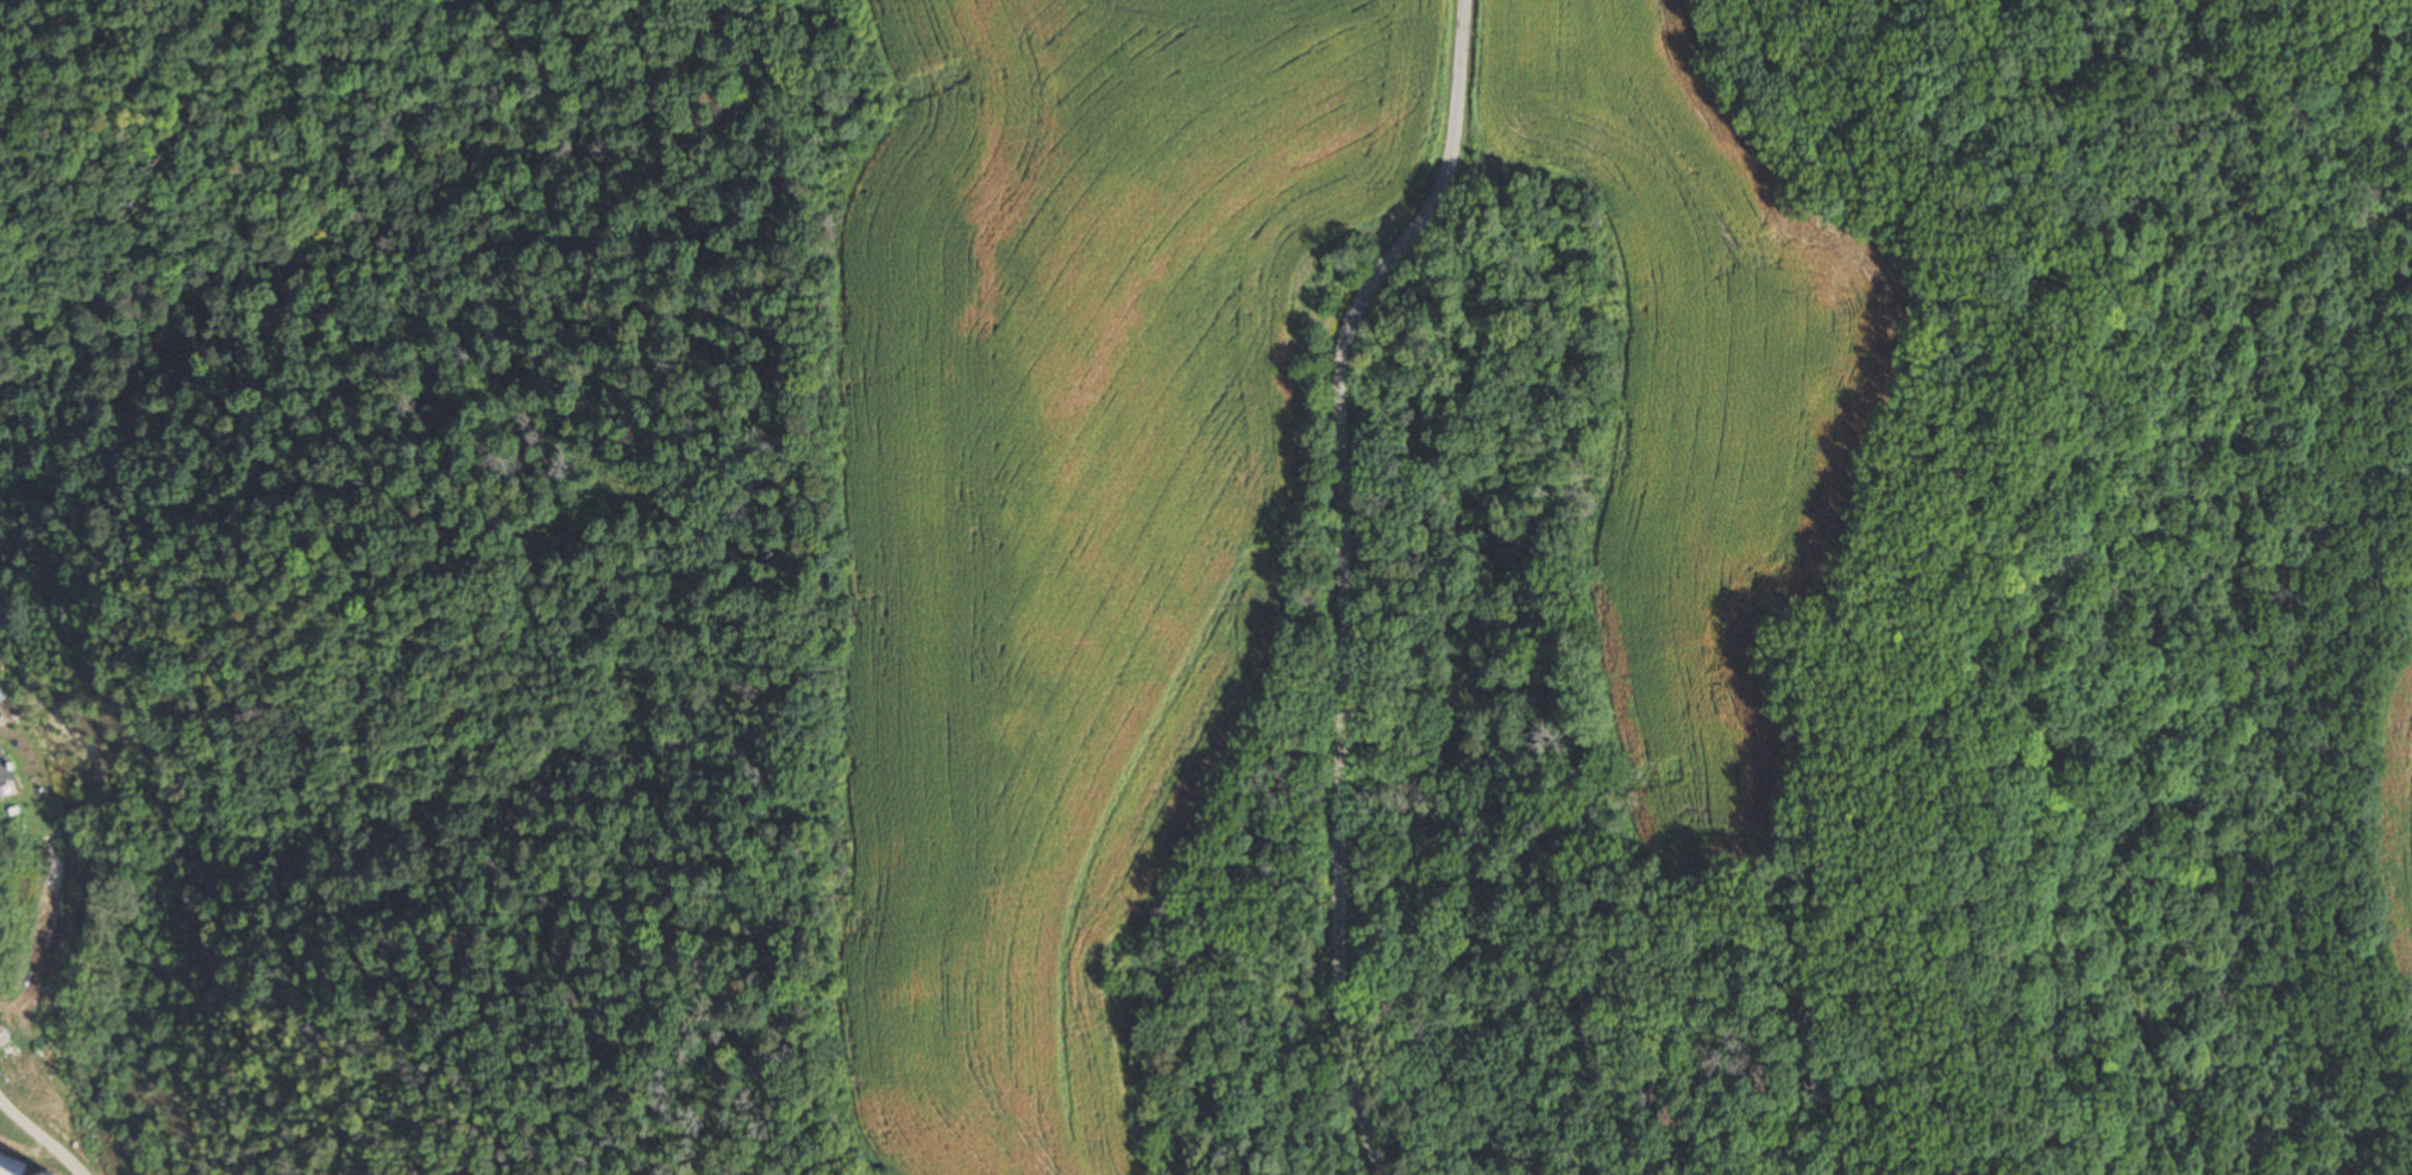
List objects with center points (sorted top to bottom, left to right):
road: (1353, 574)
building: (0, 756)
building: (0, 798)
building: (0, 1036)
road: (46, 1144)
building: (8, 1167)

